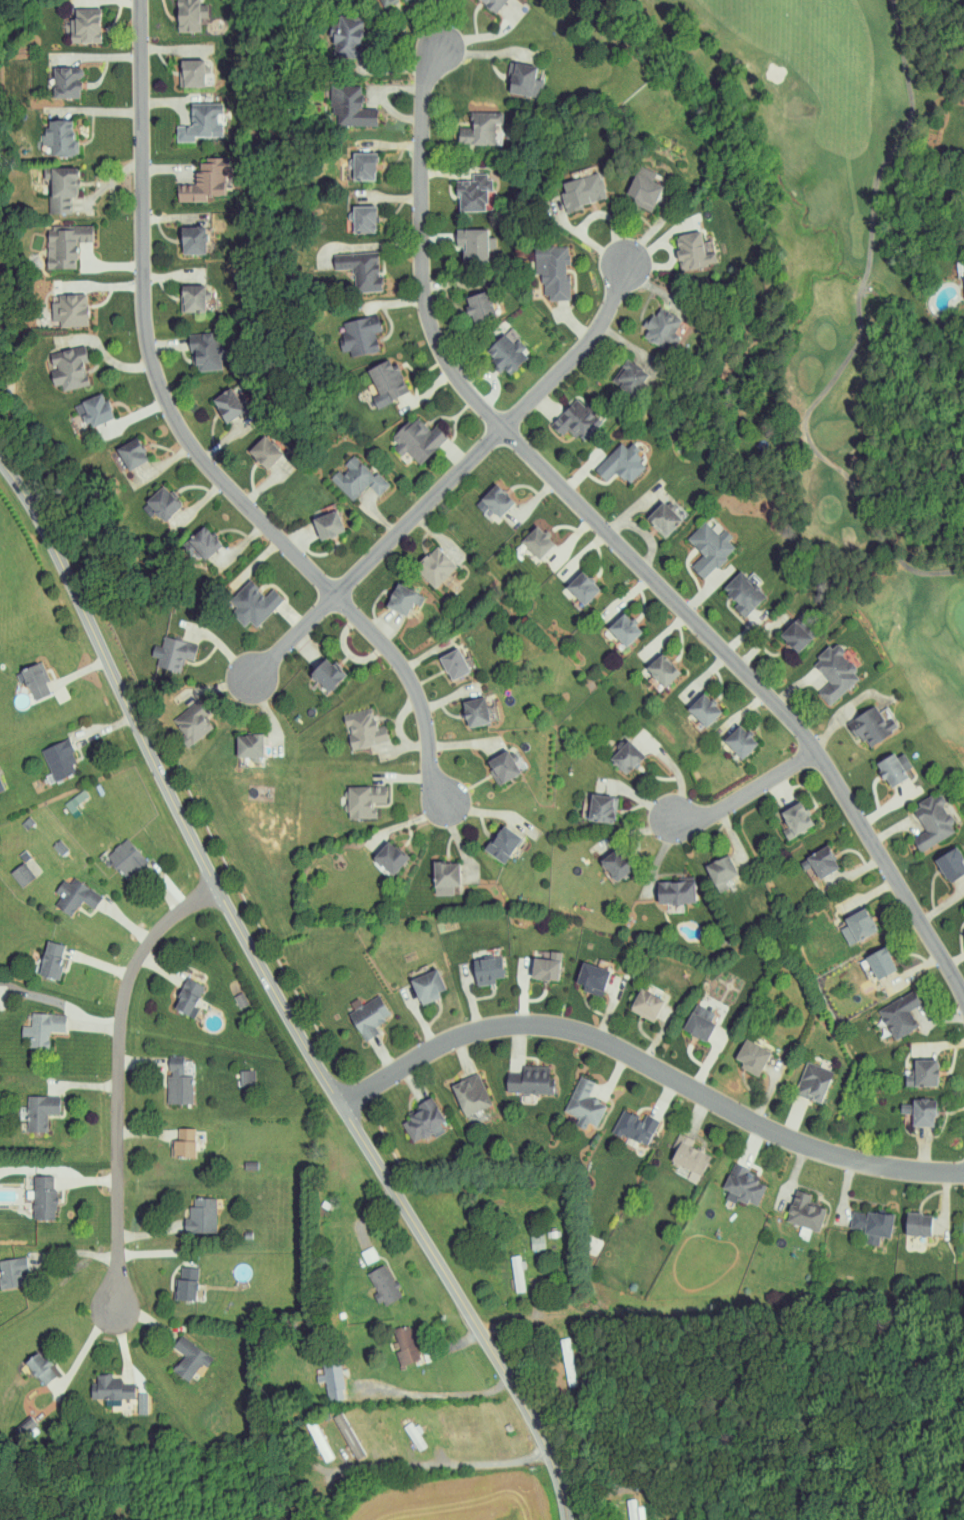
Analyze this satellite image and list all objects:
building: (387, 2)
building: (492, 4)
building: (188, 15)
building: (84, 26)
building: (190, 73)
building: (521, 81)
building: (66, 82)
building: (351, 106)
building: (200, 123)
building: (478, 129)
building: (58, 139)
building: (363, 167)
building: (205, 181)
building: (59, 189)
building: (642, 190)
building: (582, 192)
building: (472, 193)
building: (362, 220)
building: (193, 239)
building: (471, 245)
building: (68, 247)
building: (693, 249)
building: (963, 260)
building: (360, 270)
building: (551, 271)
building: (194, 299)
park: (837, 303)
building: (478, 307)
building: (70, 309)
building: (663, 327)
building: (360, 336)
building: (505, 352)
building: (206, 353)
road: (575, 356)
building: (67, 368)
building: (630, 376)
building: (385, 383)
building: (231, 406)
building: (98, 412)
building: (574, 421)
road: (193, 436)
building: (420, 438)
building: (267, 453)
building: (134, 457)
building: (621, 464)
building: (356, 478)
building: (493, 502)
building: (166, 504)
building: (665, 516)
building: (331, 527)
building: (535, 540)
road: (616, 542)
building: (206, 546)
building: (709, 546)
road: (376, 556)
building: (434, 565)
building: (581, 586)
building: (743, 592)
building: (404, 598)
building: (255, 606)
building: (623, 628)
building: (794, 634)
building: (177, 654)
building: (457, 664)
road: (78, 666)
building: (661, 668)
building: (834, 672)
building: (329, 678)
building: (34, 679)
building: (702, 708)
building: (478, 714)
building: (871, 724)
building: (194, 725)
building: (364, 730)
road: (109, 736)
building: (739, 740)
building: (252, 749)
building: (626, 756)
building: (59, 758)
building: (893, 767)
building: (506, 769)
road: (674, 770)
building: (0, 786)
road: (749, 789)
building: (76, 799)
road: (644, 800)
building: (366, 801)
building: (601, 807)
building: (794, 819)
building: (931, 821)
road: (633, 833)
road: (732, 838)
building: (506, 843)
building: (59, 846)
building: (125, 858)
building: (392, 858)
road: (658, 858)
building: (821, 860)
building: (615, 863)
building: (720, 871)
building: (21, 873)
building: (449, 873)
road: (163, 889)
building: (674, 891)
building: (74, 895)
road: (128, 922)
building: (856, 925)
building: (51, 959)
building: (878, 961)
building: (545, 965)
road: (99, 966)
road: (160, 966)
building: (487, 970)
building: (591, 978)
building: (426, 986)
road: (276, 995)
building: (186, 996)
building: (645, 1004)
building: (899, 1014)
building: (367, 1017)
building: (701, 1019)
building: (44, 1027)
road: (96, 1031)
building: (750, 1056)
road: (649, 1060)
road: (142, 1063)
building: (922, 1073)
road: (117, 1074)
building: (246, 1077)
building: (529, 1080)
building: (812, 1081)
building: (177, 1082)
road: (84, 1084)
building: (469, 1093)
building: (584, 1103)
building: (38, 1111)
building: (919, 1111)
building: (422, 1121)
building: (634, 1126)
road: (143, 1135)
building: (183, 1143)
building: (688, 1157)
road: (91, 1181)
building: (743, 1186)
building: (43, 1197)
building: (805, 1211)
building: (202, 1215)
building: (871, 1224)
building: (917, 1224)
road: (148, 1232)
building: (537, 1241)
road: (156, 1257)
road: (80, 1258)
building: (12, 1271)
building: (517, 1272)
building: (185, 1284)
building: (383, 1284)
road: (145, 1320)
road: (548, 1327)
road: (122, 1341)
building: (406, 1345)
road: (83, 1350)
building: (188, 1358)
building: (39, 1368)
building: (331, 1381)
building: (110, 1388)
road: (437, 1395)
building: (347, 1435)
building: (413, 1435)
road: (427, 1462)
building: (634, 1510)

